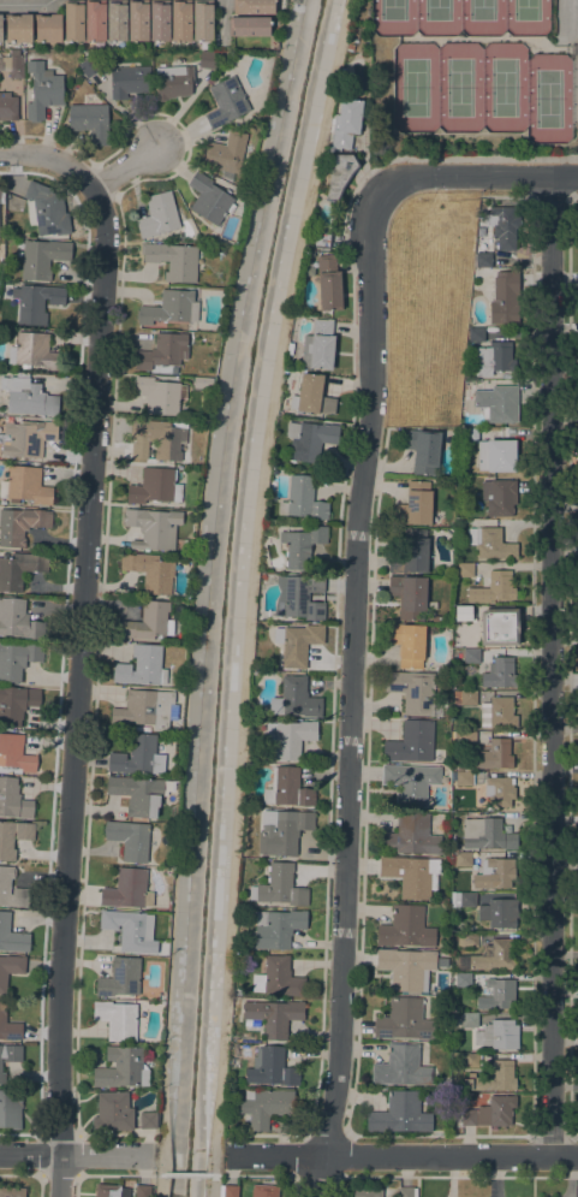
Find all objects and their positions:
road: (26, 6)
building: (254, 7)
road: (222, 12)
building: (73, 20)
building: (95, 20)
building: (117, 20)
building: (138, 20)
building: (160, 20)
building: (181, 20)
building: (202, 20)
building: (249, 26)
building: (1, 28)
building: (18, 28)
building: (48, 28)
building: (350, 47)
building: (29, 55)
building: (207, 61)
building: (13, 66)
building: (91, 66)
building: (221, 71)
park: (475, 71)
building: (174, 79)
building: (130, 81)
building: (42, 90)
building: (227, 102)
building: (7, 107)
building: (90, 122)
building: (346, 124)
building: (224, 154)
road: (466, 159)
building: (340, 174)
road: (84, 176)
road: (475, 176)
building: (1, 196)
building: (209, 198)
building: (46, 211)
building: (159, 214)
building: (502, 226)
building: (322, 239)
building: (1, 248)
building: (42, 259)
building: (173, 260)
building: (483, 260)
building: (328, 284)
building: (505, 297)
building: (36, 302)
building: (171, 308)
building: (184, 327)
building: (476, 334)
building: (318, 346)
building: (34, 351)
building: (162, 351)
building: (494, 357)
building: (203, 383)
building: (160, 395)
building: (311, 396)
building: (28, 397)
building: (497, 403)
building: (471, 434)
building: (28, 438)
building: (310, 439)
building: (156, 440)
building: (423, 450)
building: (497, 455)
building: (26, 486)
building: (155, 486)
building: (500, 497)
building: (303, 499)
building: (416, 504)
building: (20, 525)
building: (153, 528)
building: (493, 544)
building: (302, 546)
building: (410, 552)
building: (19, 569)
building: (465, 569)
building: (150, 571)
building: (494, 587)
road: (251, 594)
building: (410, 595)
building: (299, 597)
building: (463, 614)
building: (260, 617)
building: (18, 620)
building: (437, 620)
building: (148, 622)
building: (499, 626)
building: (297, 644)
building: (409, 644)
building: (471, 656)
building: (18, 659)
road: (552, 665)
building: (142, 666)
building: (500, 672)
road: (78, 689)
building: (413, 692)
road: (348, 694)
building: (465, 698)
building: (296, 699)
building: (16, 704)
building: (145, 711)
building: (497, 712)
building: (436, 723)
building: (290, 737)
building: (465, 739)
building: (412, 742)
building: (16, 753)
building: (139, 755)
building: (495, 755)
building: (464, 778)
building: (411, 783)
building: (287, 789)
building: (500, 792)
building: (139, 794)
building: (13, 800)
building: (284, 834)
building: (489, 835)
building: (411, 836)
building: (13, 837)
building: (130, 839)
building: (460, 859)
building: (493, 875)
building: (411, 876)
building: (280, 887)
building: (12, 890)
building: (127, 890)
building: (454, 896)
building: (467, 900)
building: (496, 913)
building: (406, 928)
building: (276, 929)
building: (131, 930)
building: (12, 936)
building: (467, 940)
building: (488, 956)
building: (442, 962)
building: (406, 967)
building: (10, 970)
building: (120, 978)
building: (279, 978)
building: (460, 980)
building: (497, 994)
building: (273, 1017)
building: (117, 1020)
building: (404, 1020)
building: (470, 1020)
building: (8, 1026)
building: (497, 1035)
building: (10, 1056)
building: (471, 1061)
building: (401, 1066)
building: (123, 1067)
building: (270, 1068)
building: (497, 1075)
building: (472, 1082)
building: (266, 1107)
building: (10, 1109)
building: (113, 1113)
building: (400, 1114)
building: (489, 1115)
building: (148, 1121)
road: (114, 1133)
road: (60, 1134)
road: (269, 1134)
road: (327, 1138)
road: (71, 1154)
road: (142, 1155)
road: (404, 1155)
road: (231, 1157)
road: (59, 1174)
road: (112, 1174)
road: (187, 1174)
road: (263, 1175)
road: (316, 1175)
building: (111, 1191)
building: (142, 1191)
building: (228, 1191)
building: (264, 1191)
building: (11, 1192)
building: (367, 1192)
building: (406, 1192)

